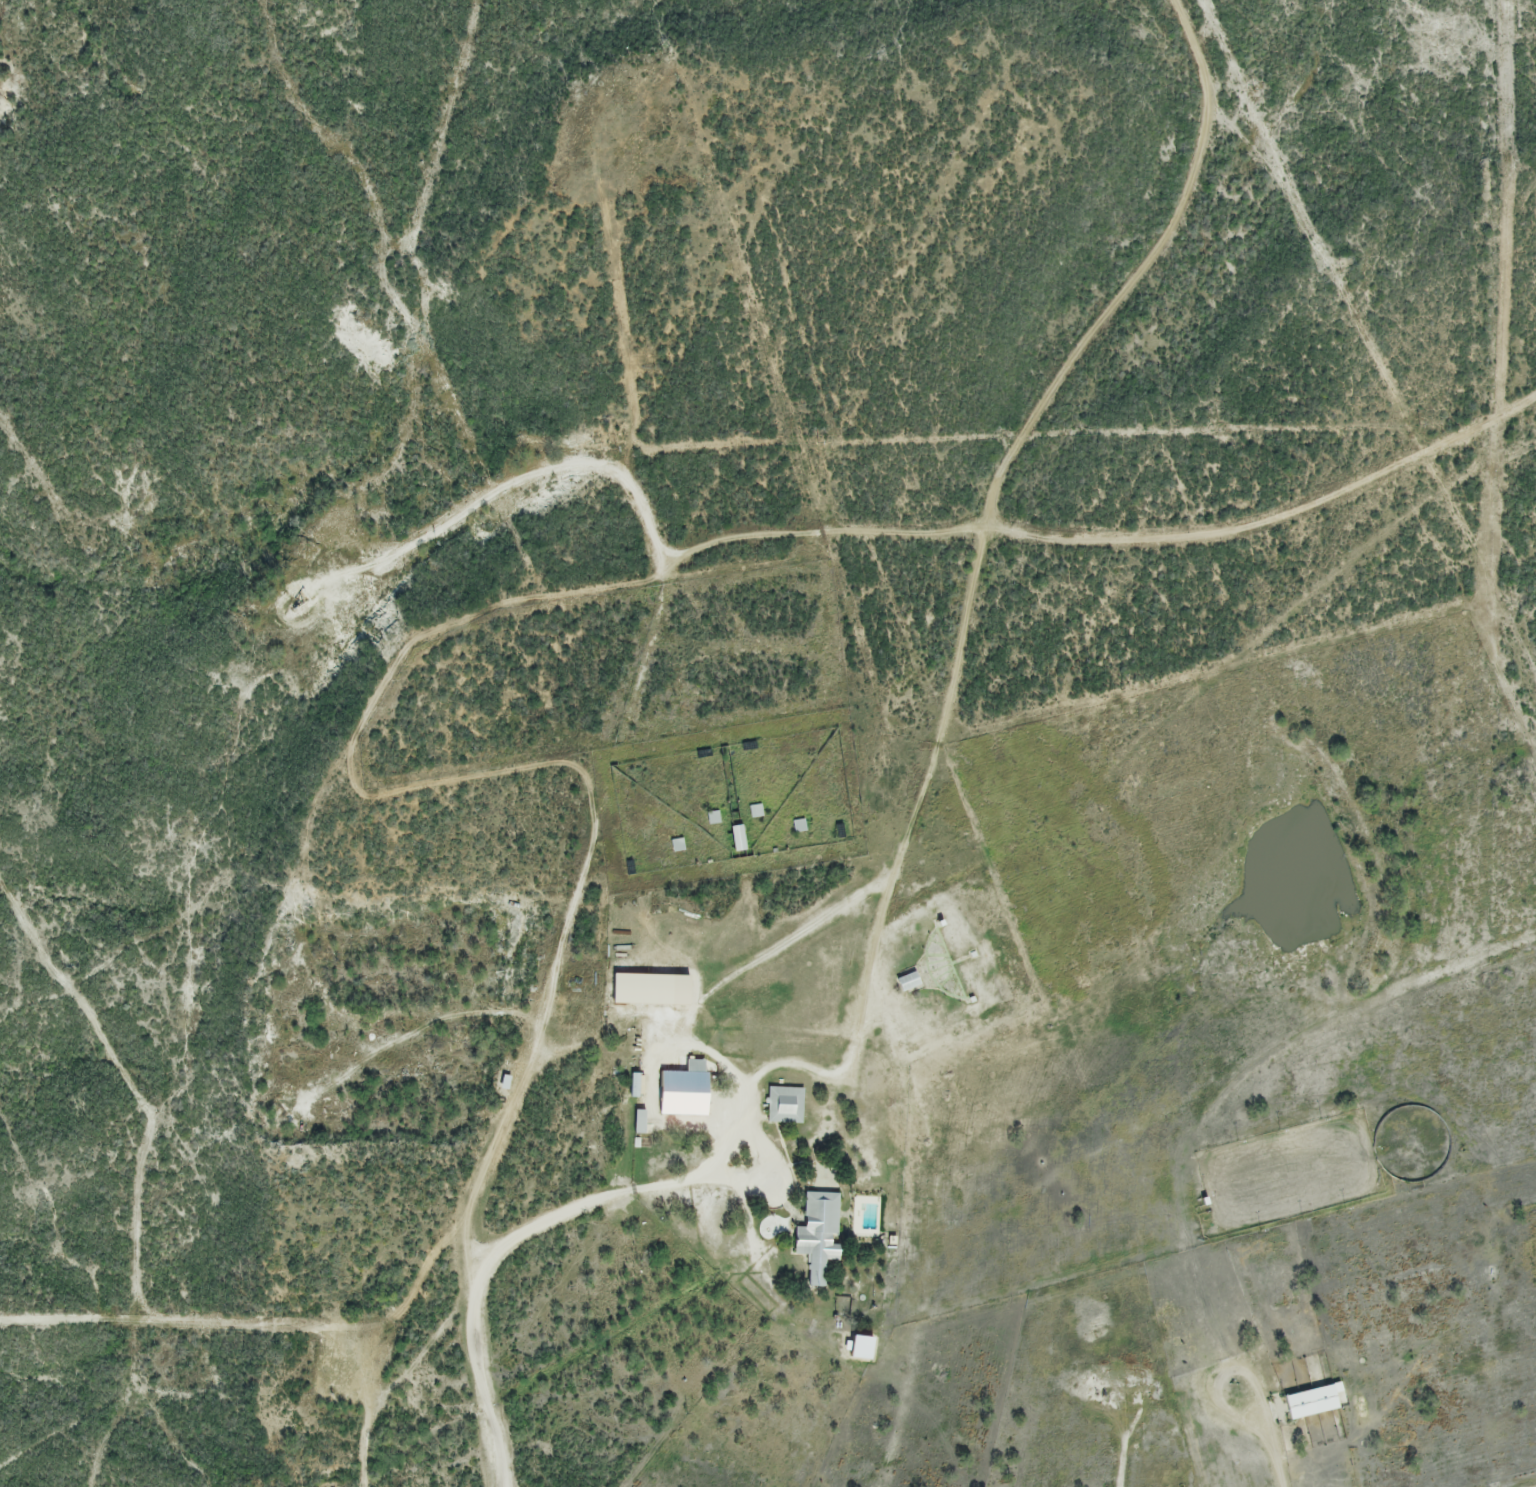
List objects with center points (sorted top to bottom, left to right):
building: (739, 837)
building: (909, 979)
building: (652, 986)
building: (506, 1080)
building: (635, 1083)
building: (685, 1088)
building: (787, 1102)
building: (641, 1119)
building: (818, 1233)
building: (864, 1345)
building: (1314, 1401)

